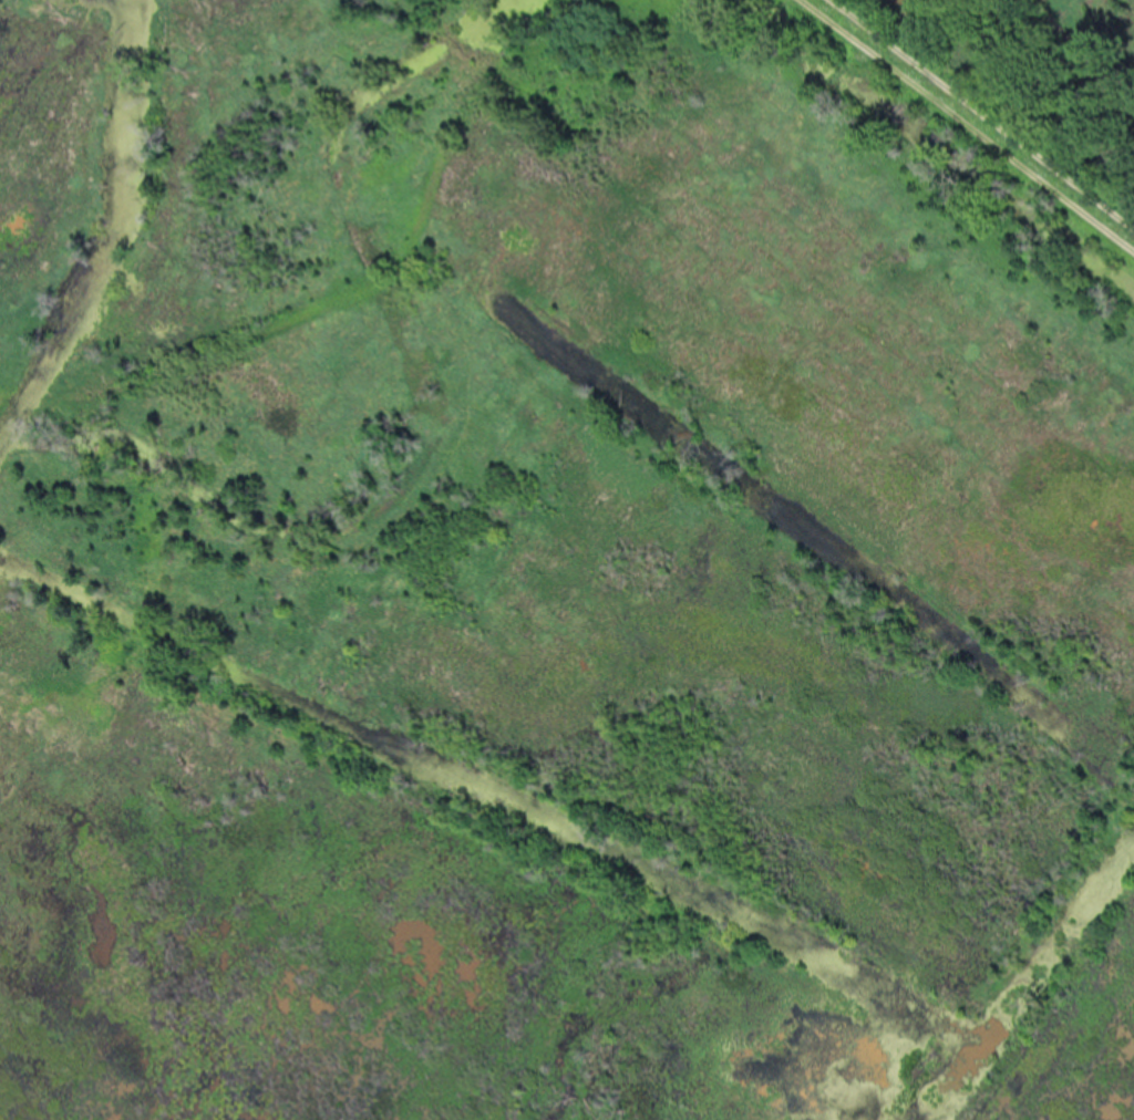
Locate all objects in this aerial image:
road: (848, 18)
river: (1033, 44)
road: (1003, 136)

